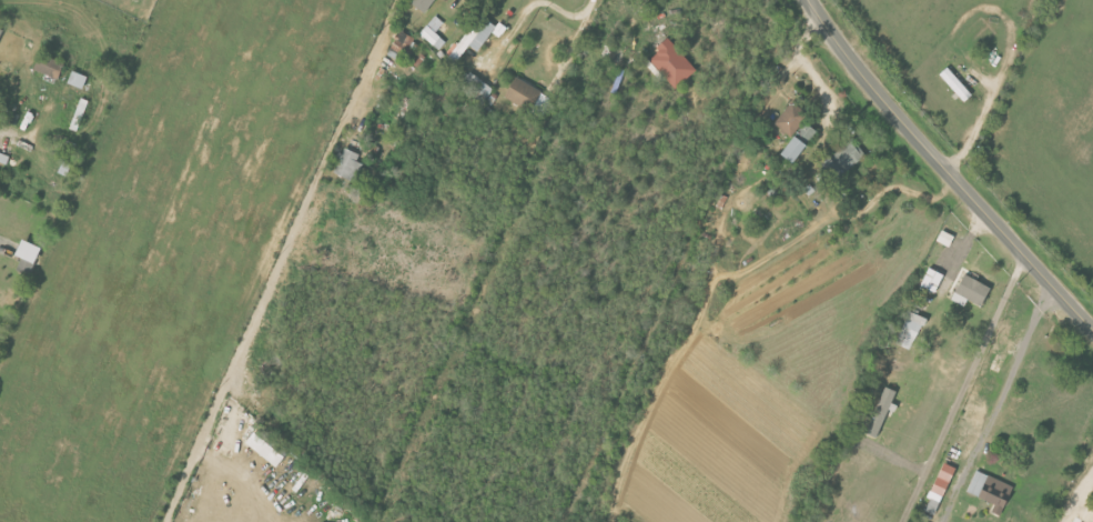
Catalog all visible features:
building: (425, 4)
road: (537, 4)
building: (1, 31)
building: (434, 33)
building: (476, 37)
building: (674, 64)
building: (51, 67)
building: (79, 80)
building: (957, 84)
building: (476, 87)
building: (530, 98)
building: (791, 119)
road: (974, 126)
building: (808, 132)
building: (796, 149)
building: (4, 158)
building: (843, 159)
building: (348, 164)
building: (65, 169)
road: (945, 169)
building: (29, 259)
road: (279, 260)
building: (933, 280)
building: (972, 291)
building: (911, 330)
road: (965, 390)
road: (1001, 395)
building: (882, 411)
building: (267, 448)
building: (941, 488)
road: (1083, 488)
building: (992, 491)

